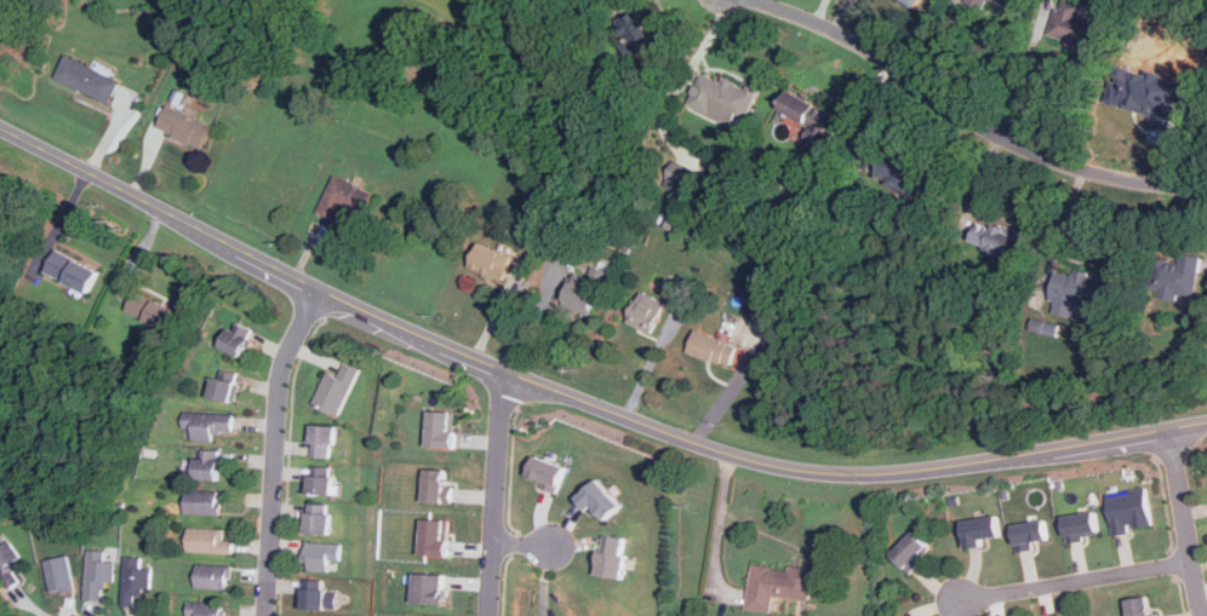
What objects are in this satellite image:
building: (910, 2)
building: (980, 5)
road: (820, 12)
building: (1079, 27)
building: (635, 35)
building: (88, 79)
building: (1145, 93)
building: (721, 98)
building: (807, 116)
road: (971, 120)
building: (187, 127)
building: (683, 174)
building: (900, 177)
building: (344, 198)
road: (1064, 226)
building: (994, 238)
building: (490, 261)
building: (76, 271)
building: (1175, 276)
building: (1079, 290)
building: (583, 292)
building: (757, 304)
building: (156, 311)
building: (646, 311)
road: (531, 319)
building: (1046, 327)
building: (235, 338)
building: (713, 349)
road: (651, 364)
building: (223, 388)
building: (336, 391)
road: (727, 391)
road: (580, 398)
building: (207, 425)
building: (442, 430)
building: (322, 442)
road: (276, 448)
building: (206, 466)
building: (545, 472)
building: (319, 480)
building: (436, 487)
road: (494, 491)
building: (599, 501)
building: (202, 502)
building: (1129, 511)
building: (318, 519)
road: (1185, 522)
building: (1081, 525)
road: (719, 529)
building: (980, 530)
building: (1030, 534)
building: (434, 537)
building: (207, 541)
road: (526, 546)
building: (910, 552)
building: (321, 555)
building: (611, 555)
building: (8, 563)
building: (98, 572)
building: (59, 575)
building: (212, 576)
building: (135, 577)
road: (1075, 581)
building: (778, 586)
building: (429, 588)
building: (313, 594)
road: (30, 606)
building: (1139, 606)
building: (204, 609)

